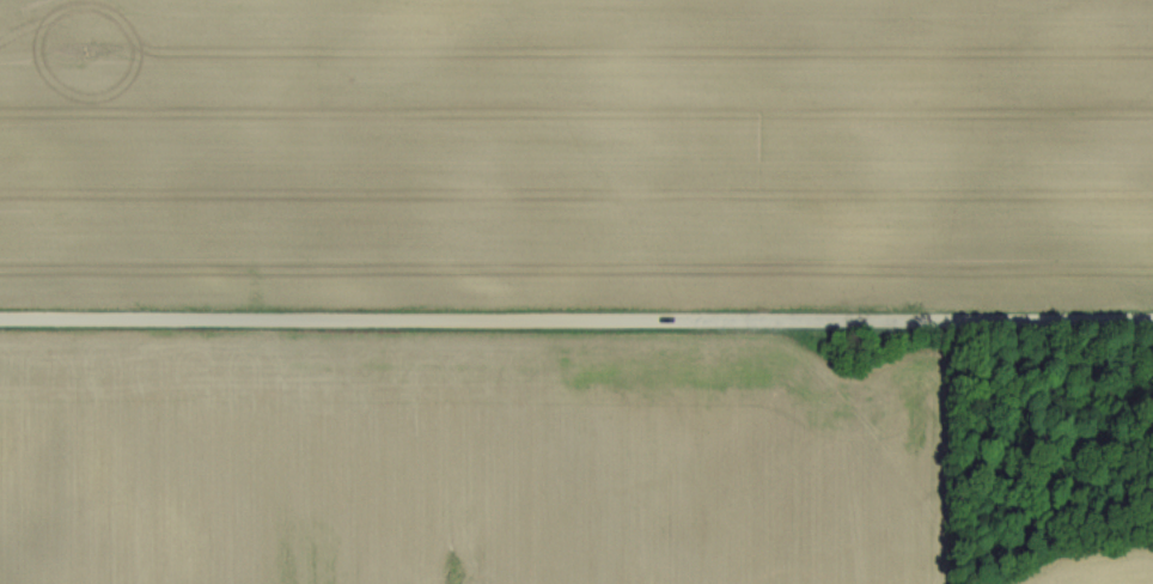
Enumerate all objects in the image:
road: (576, 320)

